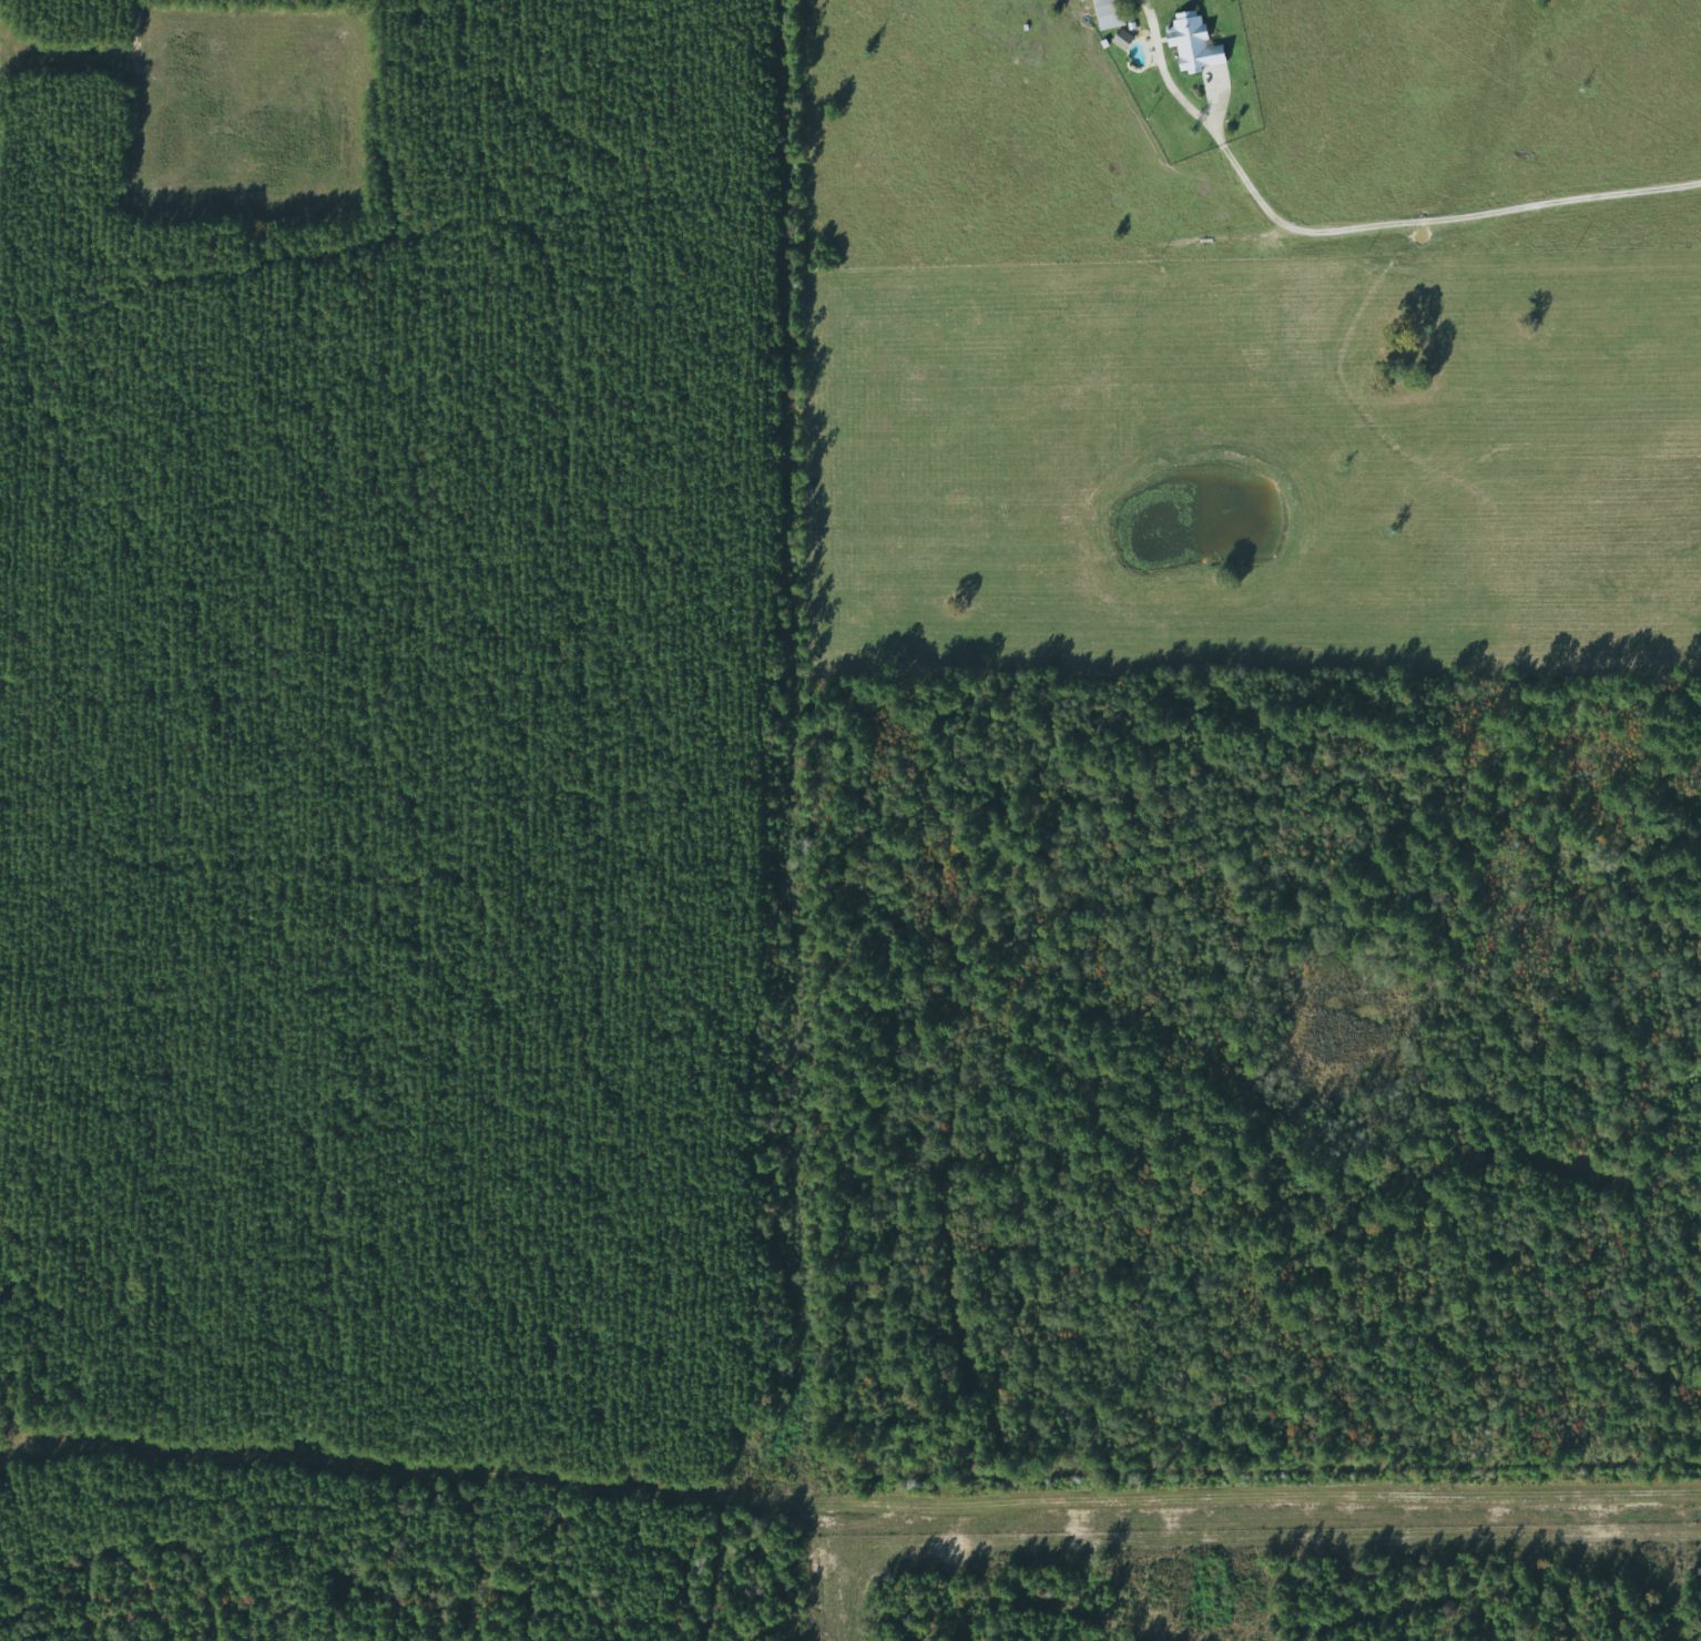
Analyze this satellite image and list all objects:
building: (1109, 13)
building: (1194, 45)
road: (1361, 227)

